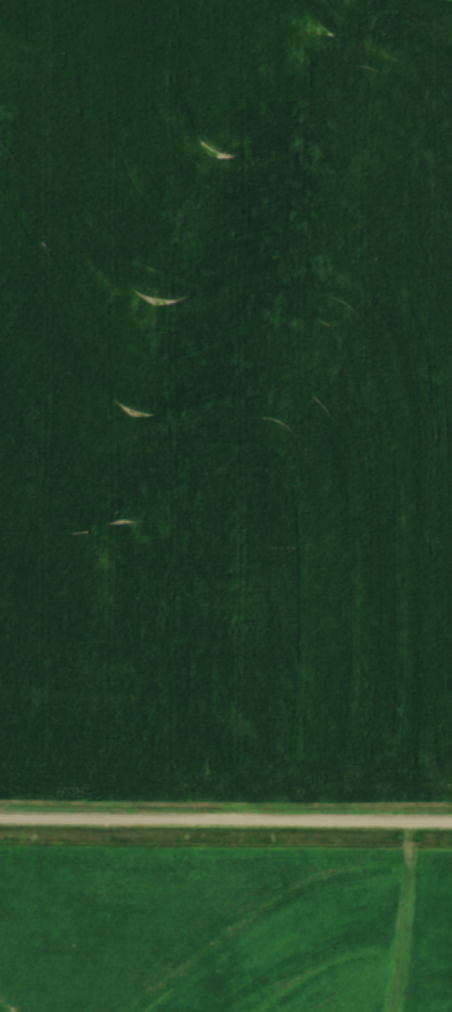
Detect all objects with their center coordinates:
road: (226, 824)

